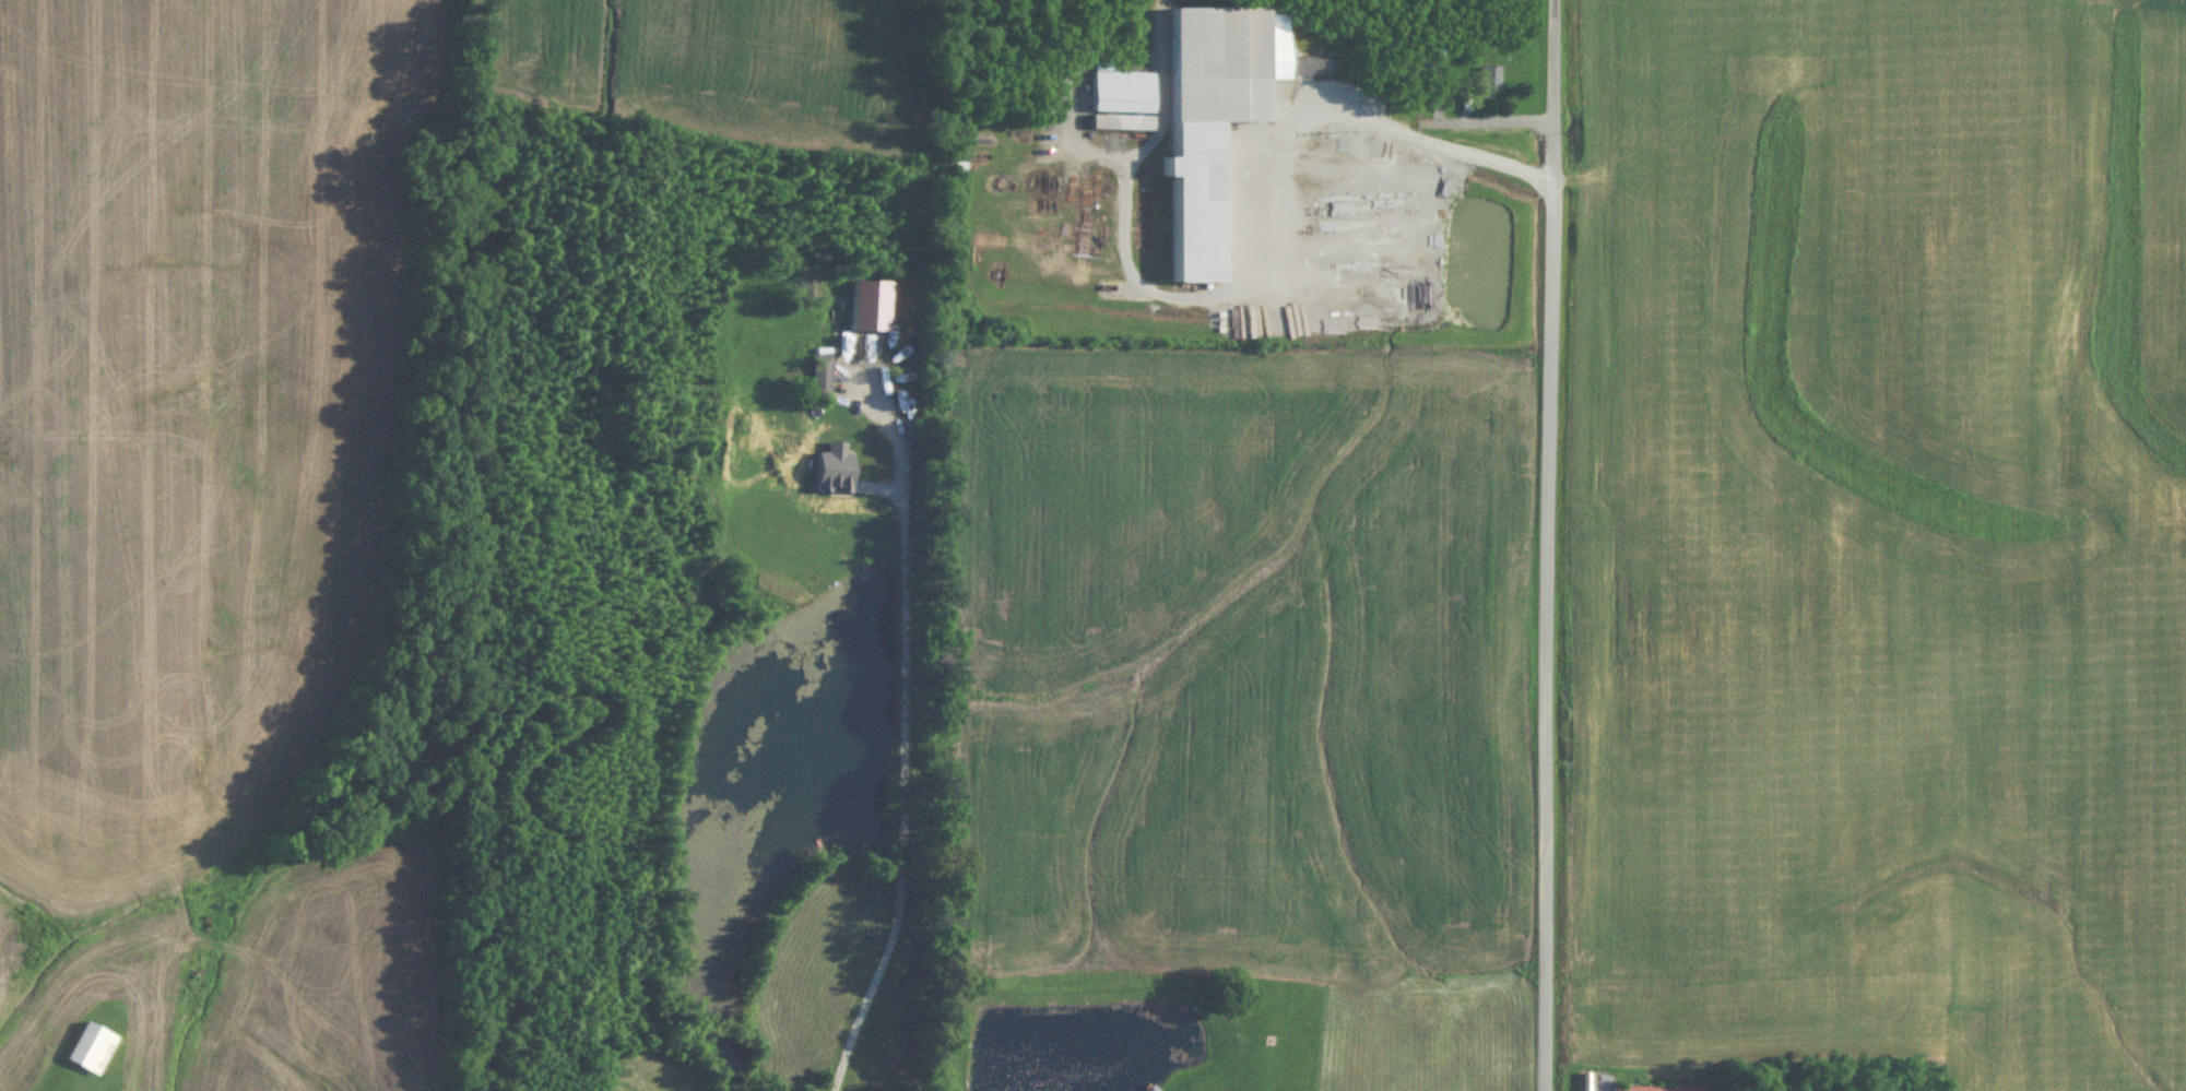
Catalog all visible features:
building: (1487, 83)
building: (1118, 100)
building: (1212, 118)
road: (1402, 130)
building: (819, 378)
building: (858, 460)
road: (1547, 545)
road: (910, 775)
building: (87, 1051)
building: (1661, 1089)

